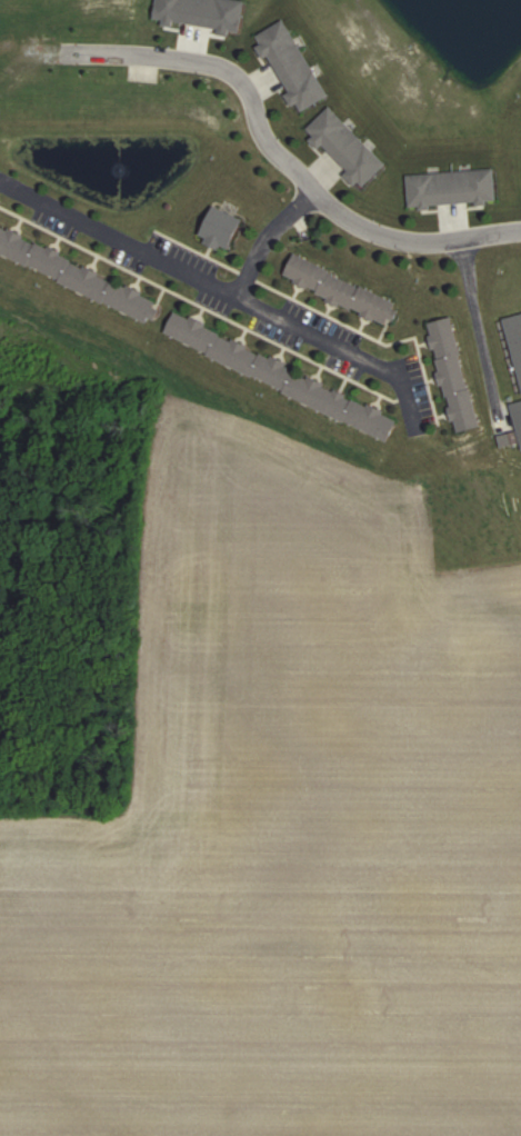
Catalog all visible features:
building: (292, 67)
building: (345, 147)
road: (279, 151)
building: (452, 188)
building: (221, 229)
road: (178, 265)
building: (79, 276)
building: (340, 290)
road: (477, 319)
building: (515, 339)
road: (335, 341)
building: (453, 375)
building: (281, 377)
building: (518, 413)

